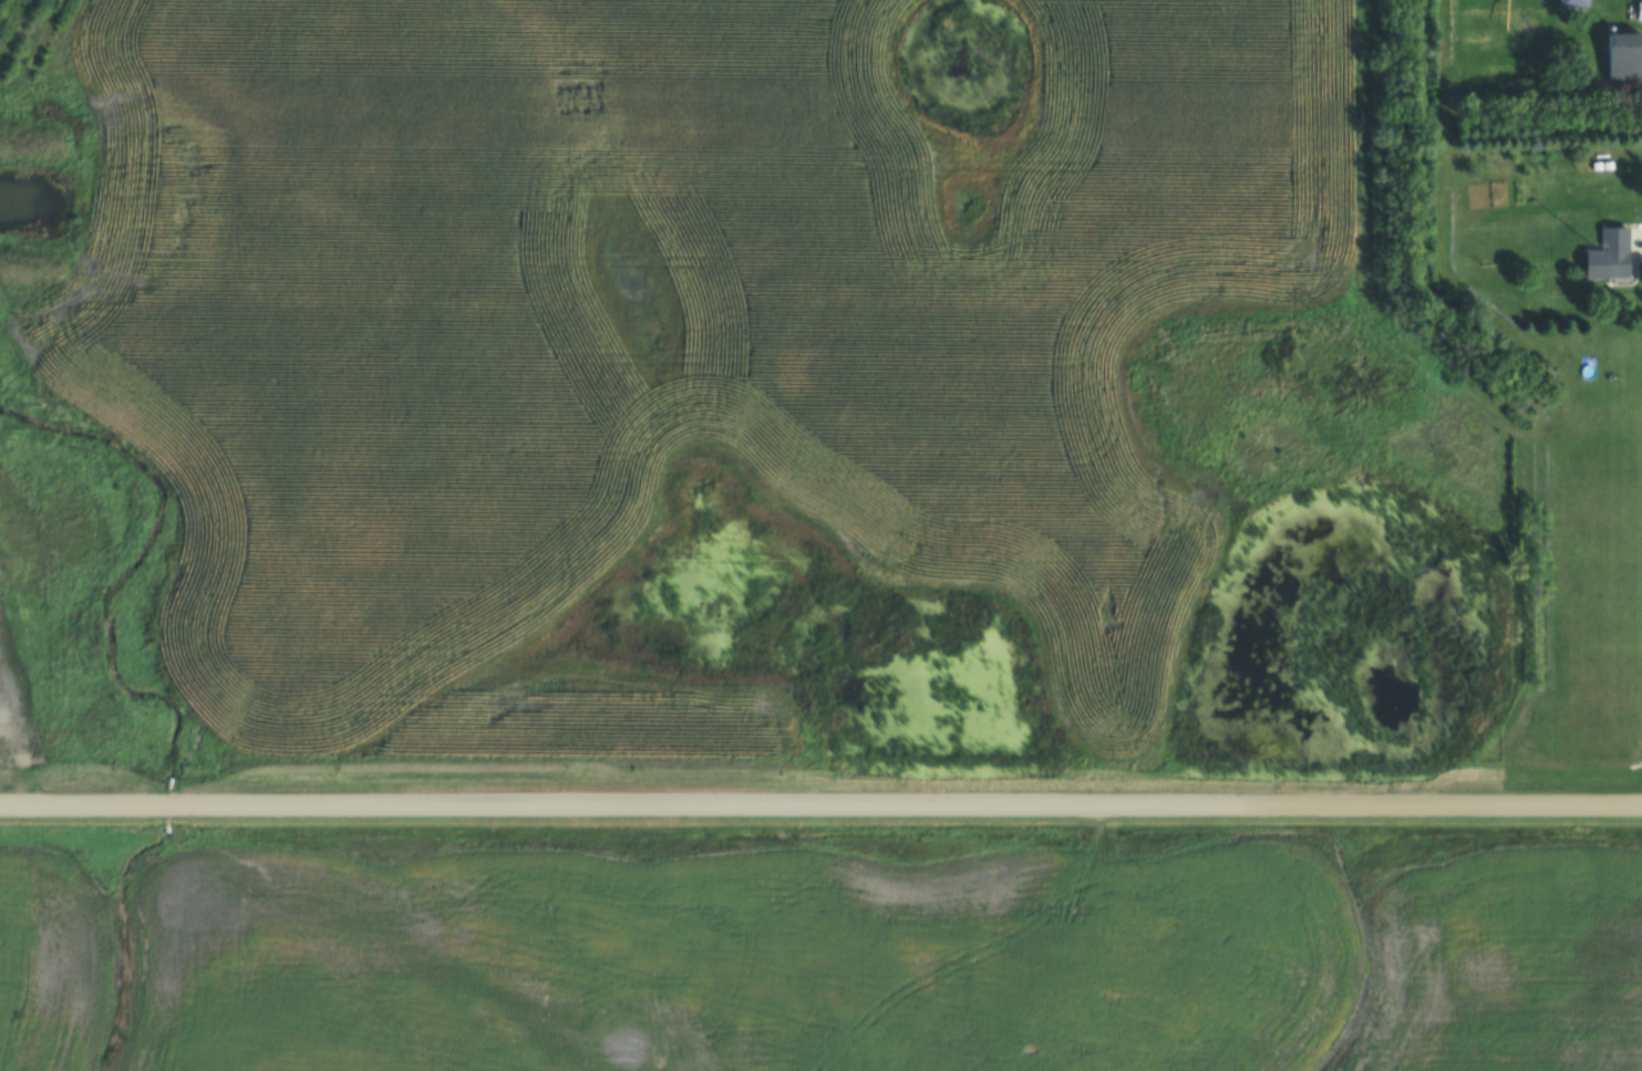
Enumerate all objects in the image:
building: (1570, 2)
building: (1639, 9)
building: (1621, 58)
building: (1608, 254)
silo: (1608, 254)
power tower: (1330, 322)
road: (820, 811)

